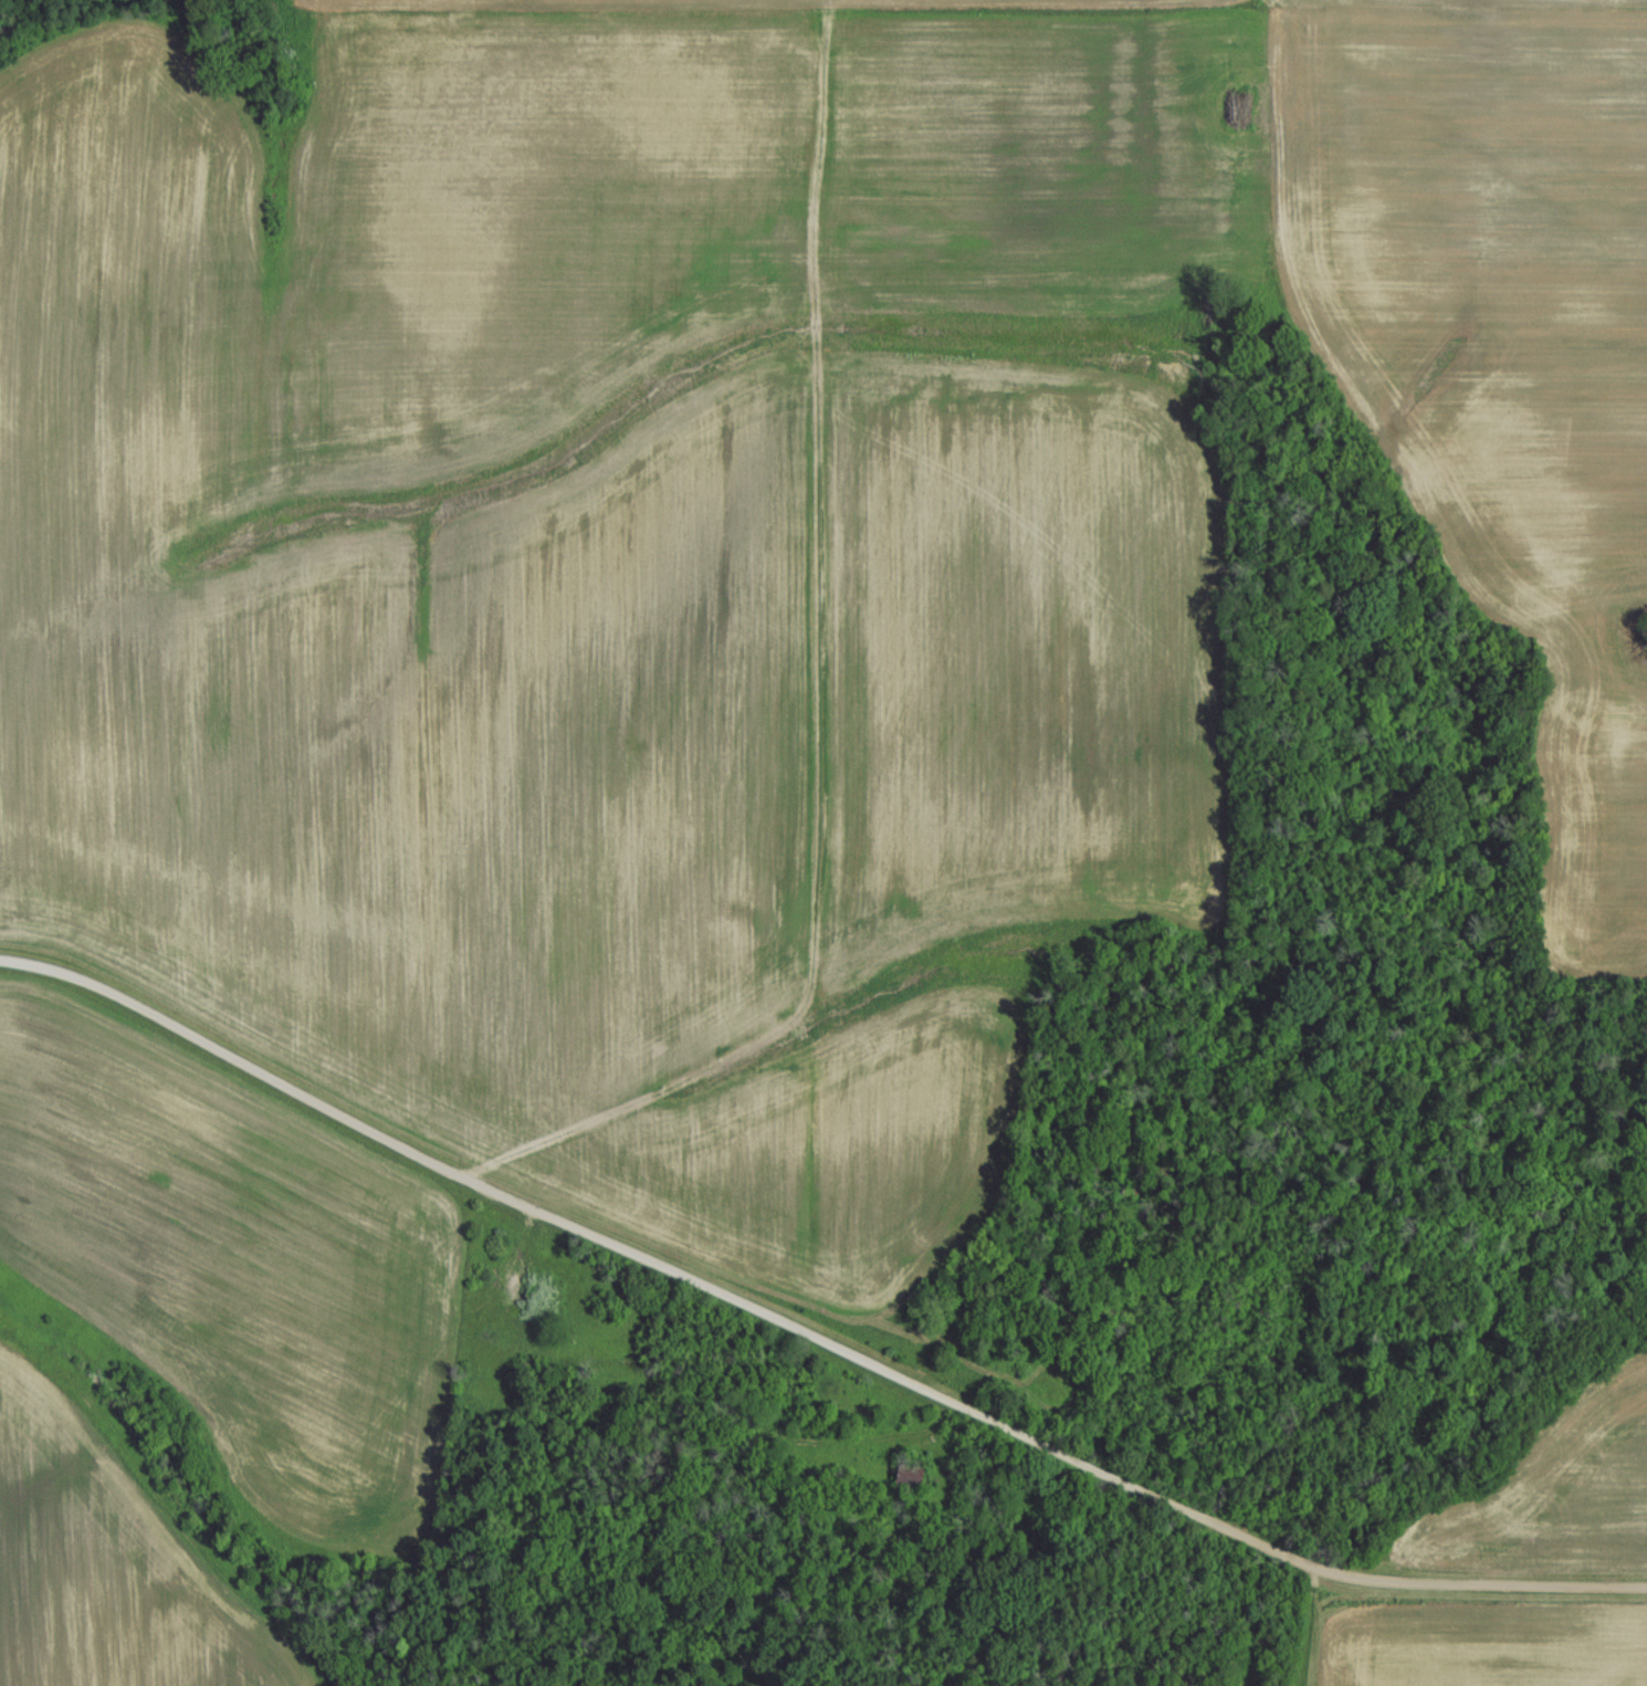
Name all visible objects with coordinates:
road: (627, 1250)
road: (1449, 1577)

